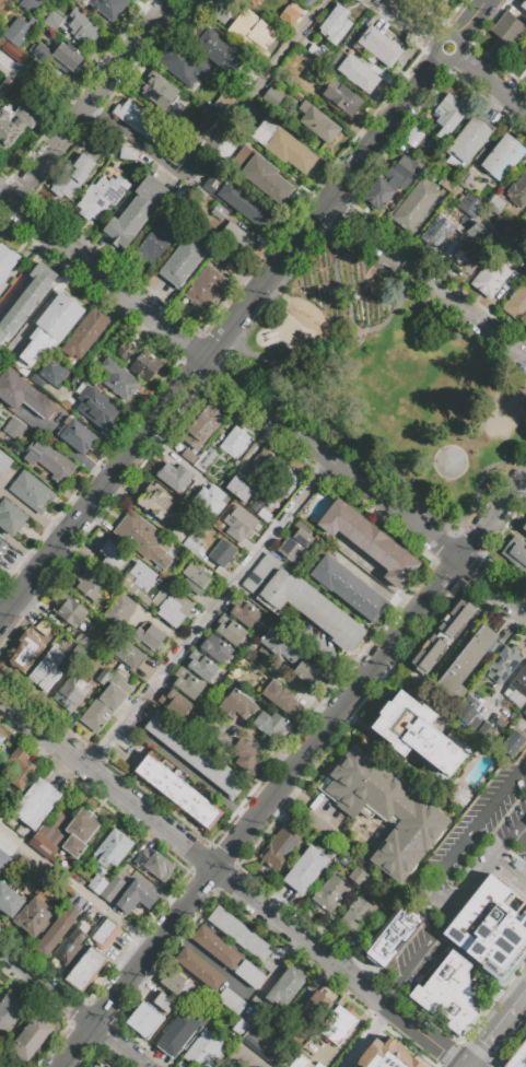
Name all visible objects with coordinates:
building: (75, 1)
building: (443, 1)
building: (254, 2)
building: (307, 3)
building: (31, 4)
building: (107, 8)
building: (522, 9)
building: (220, 10)
building: (288, 15)
building: (52, 21)
building: (335, 24)
building: (83, 26)
building: (507, 28)
building: (19, 32)
building: (273, 39)
building: (0, 46)
building: (379, 47)
building: (314, 50)
building: (40, 52)
building: (523, 52)
road: (455, 55)
building: (225, 56)
building: (69, 58)
building: (185, 65)
building: (17, 66)
building: (358, 73)
building: (157, 93)
building: (297, 96)
building: (341, 97)
building: (274, 99)
road: (92, 102)
building: (223, 102)
building: (449, 114)
building: (194, 117)
building: (137, 118)
building: (15, 122)
building: (317, 122)
road: (218, 137)
building: (412, 137)
building: (469, 140)
building: (107, 141)
building: (283, 145)
building: (128, 153)
building: (502, 157)
building: (179, 159)
building: (72, 175)
building: (266, 179)
building: (467, 179)
road: (347, 180)
building: (390, 183)
building: (447, 186)
building: (517, 191)
building: (101, 196)
building: (235, 198)
building: (495, 203)
building: (414, 204)
building: (470, 206)
building: (136, 212)
building: (221, 212)
building: (437, 235)
building: (472, 239)
building: (235, 241)
building: (155, 242)
building: (219, 258)
building: (182, 261)
building: (7, 263)
building: (470, 270)
road: (338, 275)
road: (103, 277)
building: (493, 278)
road: (428, 282)
building: (206, 286)
building: (28, 296)
road: (407, 297)
building: (517, 303)
building: (525, 325)
building: (51, 327)
building: (525, 329)
building: (2, 335)
building: (85, 335)
building: (138, 361)
building: (49, 373)
building: (93, 374)
building: (119, 379)
park: (386, 380)
building: (80, 388)
building: (23, 395)
building: (62, 396)
building: (98, 410)
park: (503, 414)
building: (202, 424)
building: (12, 427)
road: (339, 429)
building: (77, 436)
building: (234, 443)
road: (66, 448)
building: (199, 457)
building: (48, 460)
road: (331, 461)
park: (449, 461)
building: (4, 462)
building: (260, 466)
road: (481, 473)
building: (183, 480)
building: (282, 482)
road: (0, 491)
building: (32, 491)
road: (103, 491)
building: (241, 491)
building: (155, 502)
building: (227, 504)
road: (33, 514)
building: (11, 517)
building: (335, 517)
road: (492, 517)
building: (215, 519)
road: (459, 524)
building: (524, 526)
building: (245, 528)
building: (359, 531)
building: (178, 532)
building: (141, 538)
road: (464, 539)
road: (449, 542)
building: (294, 544)
building: (190, 546)
road: (22, 549)
building: (3, 550)
building: (384, 550)
building: (222, 553)
building: (515, 553)
building: (115, 558)
building: (401, 570)
building: (259, 574)
building: (171, 575)
building: (195, 578)
building: (141, 582)
building: (92, 584)
road: (492, 586)
building: (349, 589)
building: (172, 605)
building: (311, 608)
building: (120, 609)
building: (71, 612)
building: (245, 614)
road: (210, 617)
building: (44, 628)
building: (230, 630)
building: (150, 636)
building: (442, 636)
building: (83, 641)
building: (279, 644)
building: (215, 648)
building: (26, 652)
building: (124, 652)
building: (467, 661)
building: (201, 665)
building: (503, 665)
building: (119, 667)
building: (46, 670)
building: (312, 672)
building: (103, 677)
building: (190, 687)
building: (517, 689)
building: (71, 692)
building: (279, 696)
building: (105, 703)
building: (178, 703)
building: (237, 705)
building: (525, 715)
building: (471, 719)
building: (272, 725)
building: (419, 734)
building: (212, 735)
building: (1, 737)
building: (513, 743)
building: (195, 754)
building: (248, 757)
building: (21, 766)
building: (147, 767)
road: (190, 772)
building: (161, 778)
road: (107, 785)
building: (173, 788)
road: (276, 793)
building: (184, 797)
building: (36, 804)
building: (195, 806)
building: (4, 808)
building: (385, 809)
building: (208, 816)
building: (294, 824)
building: (80, 831)
road: (522, 834)
road: (467, 836)
building: (50, 837)
building: (113, 847)
building: (279, 848)
building: (3, 859)
road: (492, 861)
building: (154, 864)
parking lot: (465, 865)
building: (306, 869)
building: (30, 872)
building: (358, 876)
building: (96, 884)
building: (113, 887)
road: (77, 889)
building: (142, 893)
building: (329, 893)
building: (9, 900)
building: (127, 902)
building: (355, 914)
building: (33, 916)
building: (217, 916)
building: (226, 924)
building: (103, 930)
building: (56, 931)
building: (237, 931)
building: (489, 931)
building: (393, 934)
building: (249, 941)
road: (430, 941)
building: (69, 946)
building: (215, 947)
building: (261, 951)
building: (199, 968)
building: (86, 969)
road: (335, 969)
building: (249, 974)
building: (173, 982)
building: (287, 985)
road: (46, 988)
road: (390, 993)
building: (447, 994)
building: (231, 1000)
building: (164, 1001)
building: (315, 1008)
building: (8, 1010)
building: (254, 1019)
building: (144, 1020)
building: (338, 1023)
building: (239, 1028)
building: (182, 1032)
road: (500, 1034)
building: (31, 1037)
building: (259, 1044)
road: (118, 1045)
road: (75, 1046)
building: (203, 1050)
building: (388, 1055)
building: (517, 1056)
building: (9, 1060)
building: (300, 1062)
building: (100, 1065)
building: (318, 1065)

